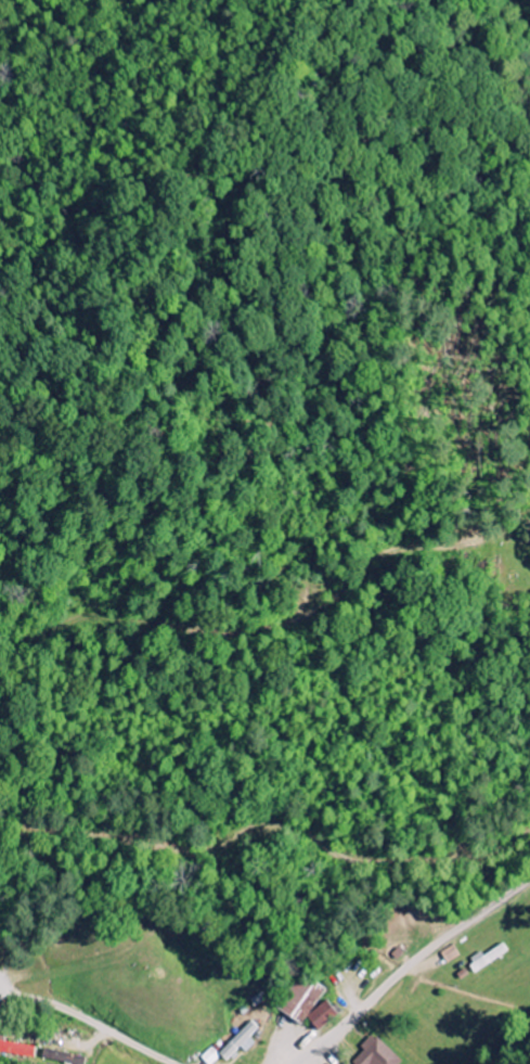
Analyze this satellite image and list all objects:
road: (503, 29)
road: (406, 967)
building: (302, 999)
building: (322, 1016)
road: (87, 1020)
building: (238, 1042)
building: (17, 1049)
building: (374, 1053)
building: (209, 1056)
building: (66, 1059)

